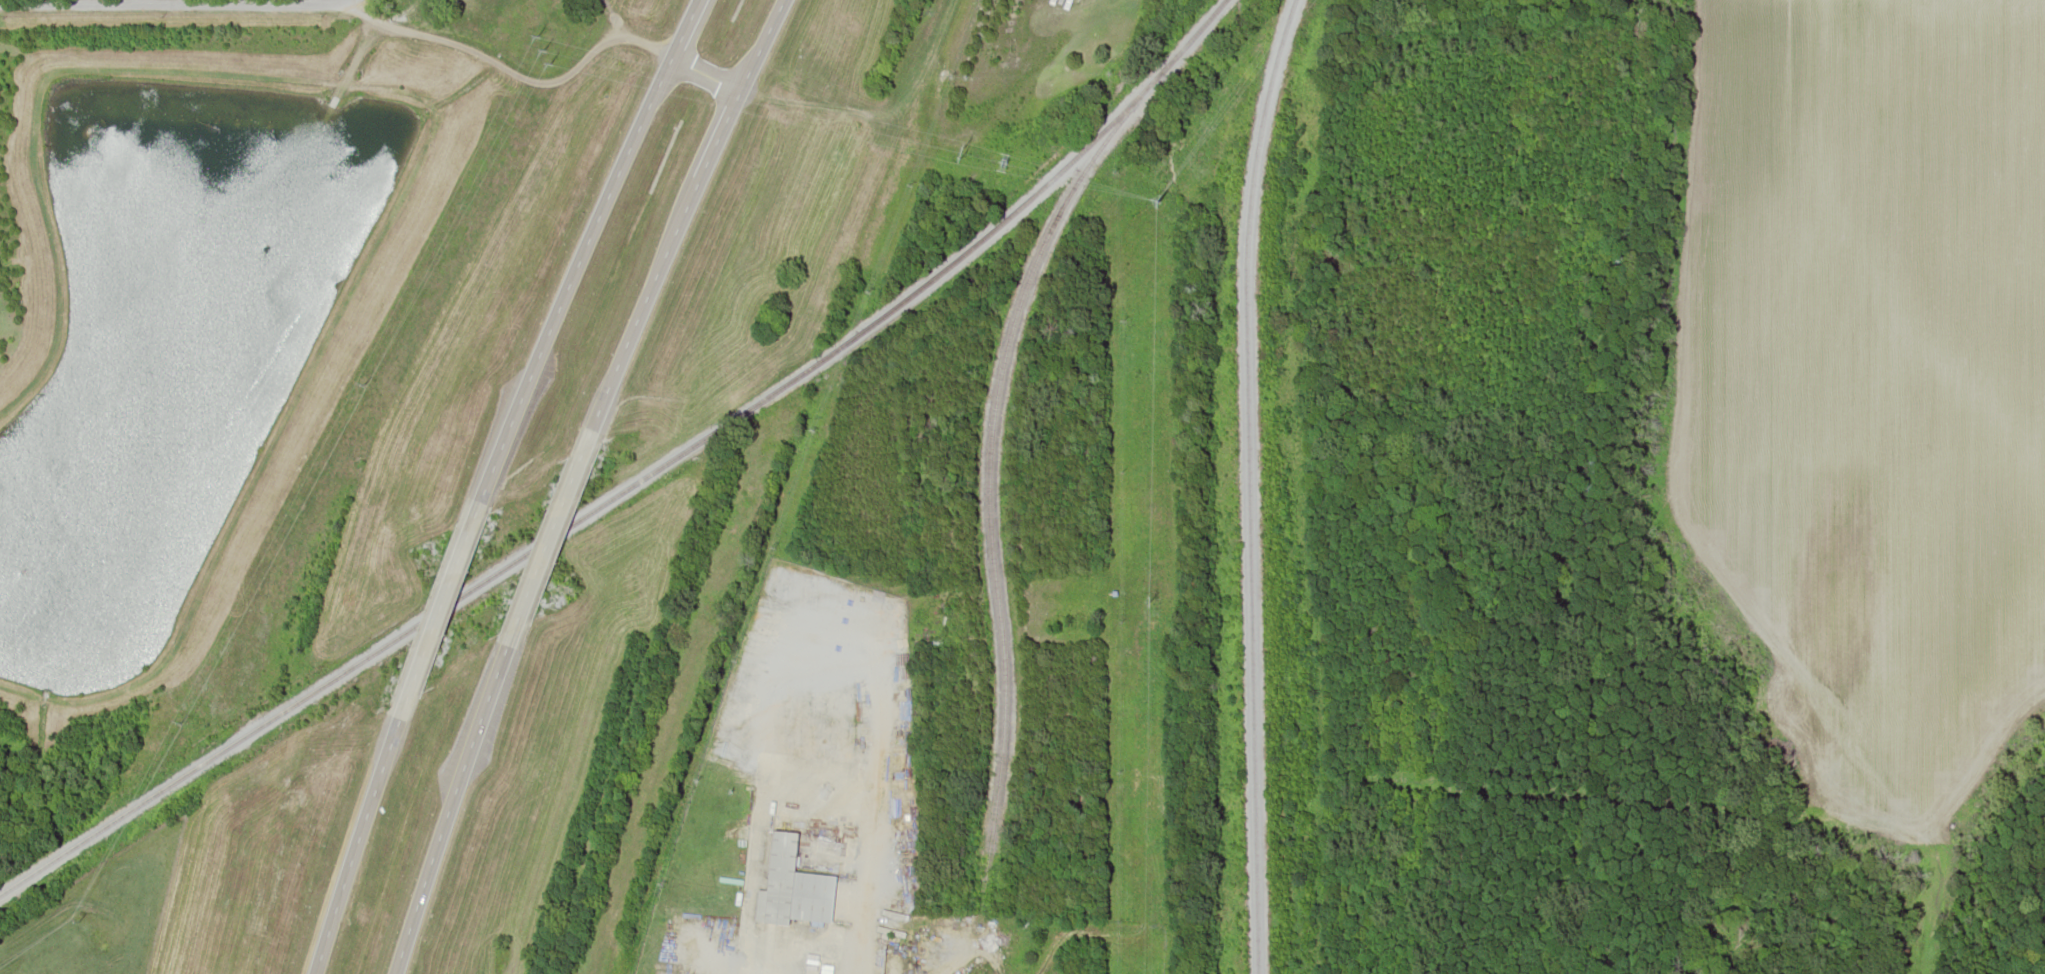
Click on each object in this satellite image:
road: (172, 5)
road: (632, 33)
road: (705, 70)
road: (687, 212)
road: (584, 245)
railway: (640, 481)
railway: (1246, 484)
railway: (992, 521)
road: (554, 536)
road: (442, 605)
road: (453, 809)
road: (360, 845)
building: (792, 886)

